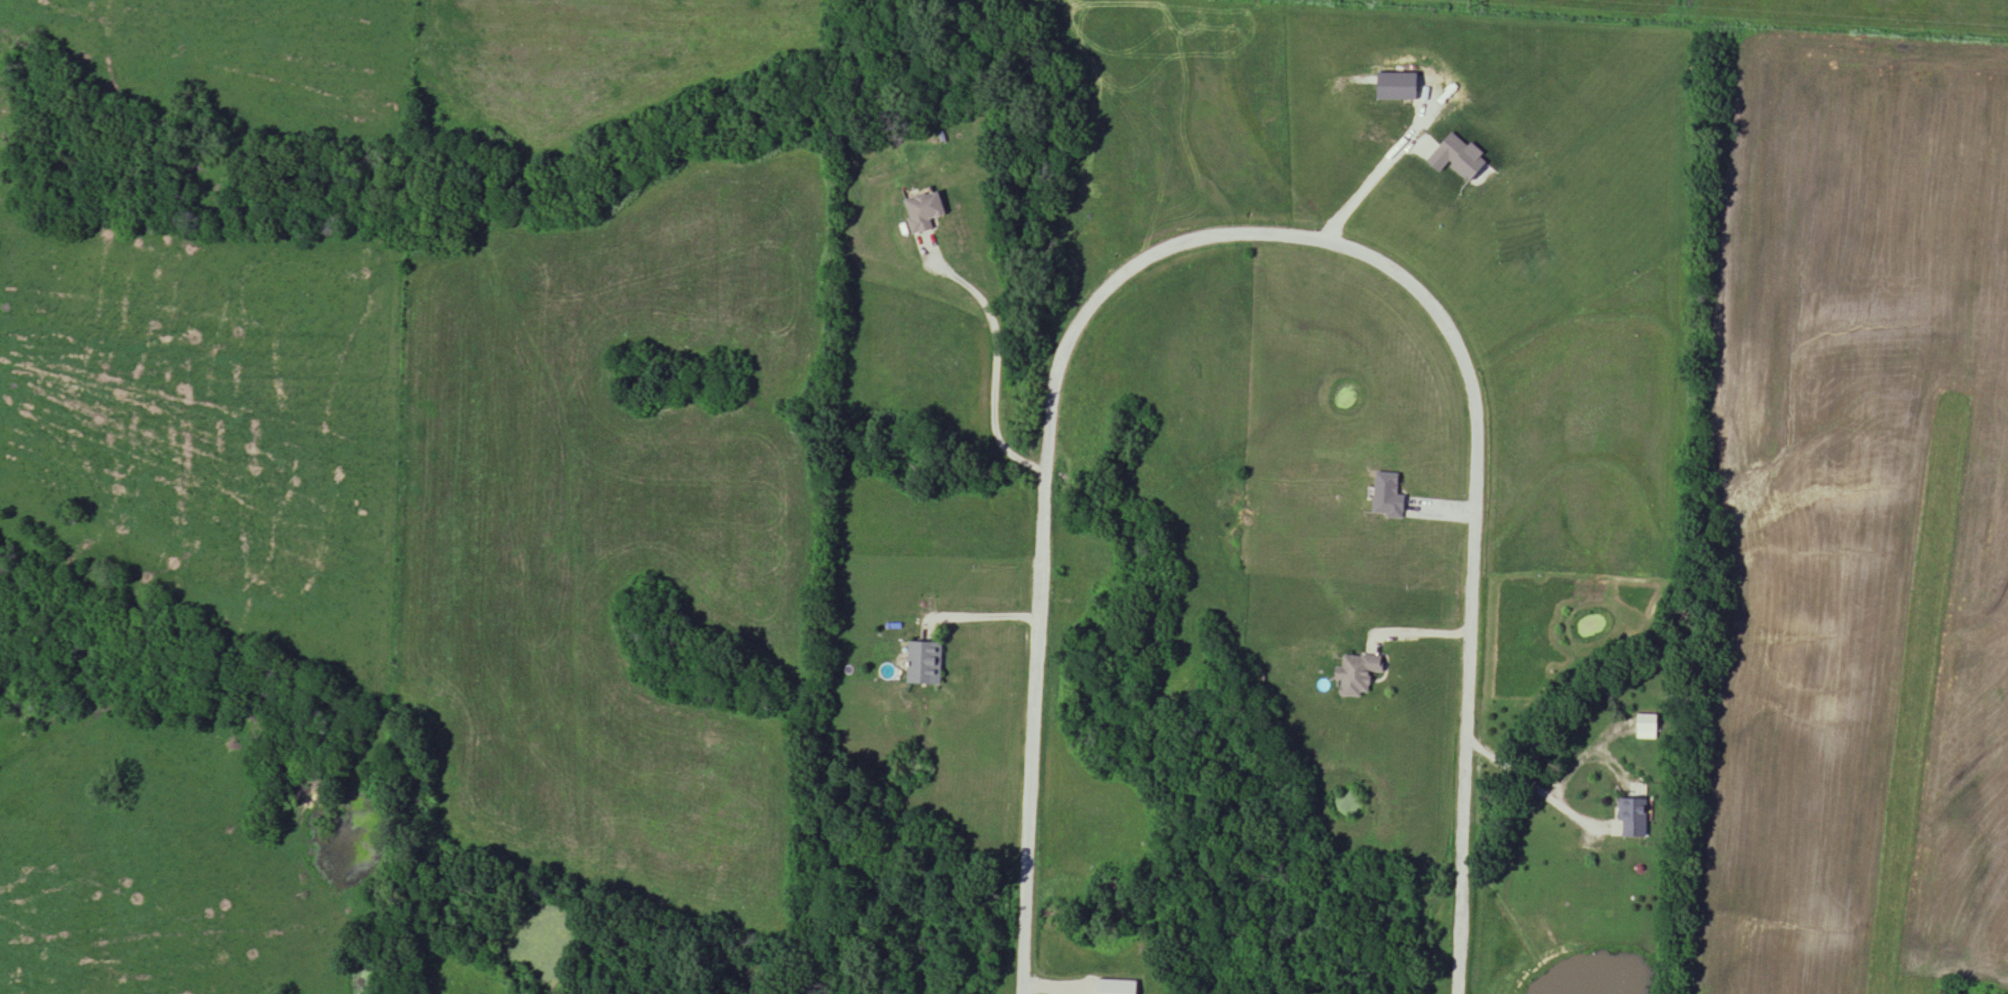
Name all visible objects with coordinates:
road: (1381, 168)
building: (925, 212)
road: (1261, 234)
road: (997, 380)
building: (1390, 497)
crop: (1853, 511)
road: (985, 617)
road: (1419, 632)
building: (926, 665)
building: (1359, 676)
road: (1537, 792)
building: (1635, 819)
building: (1118, 988)

